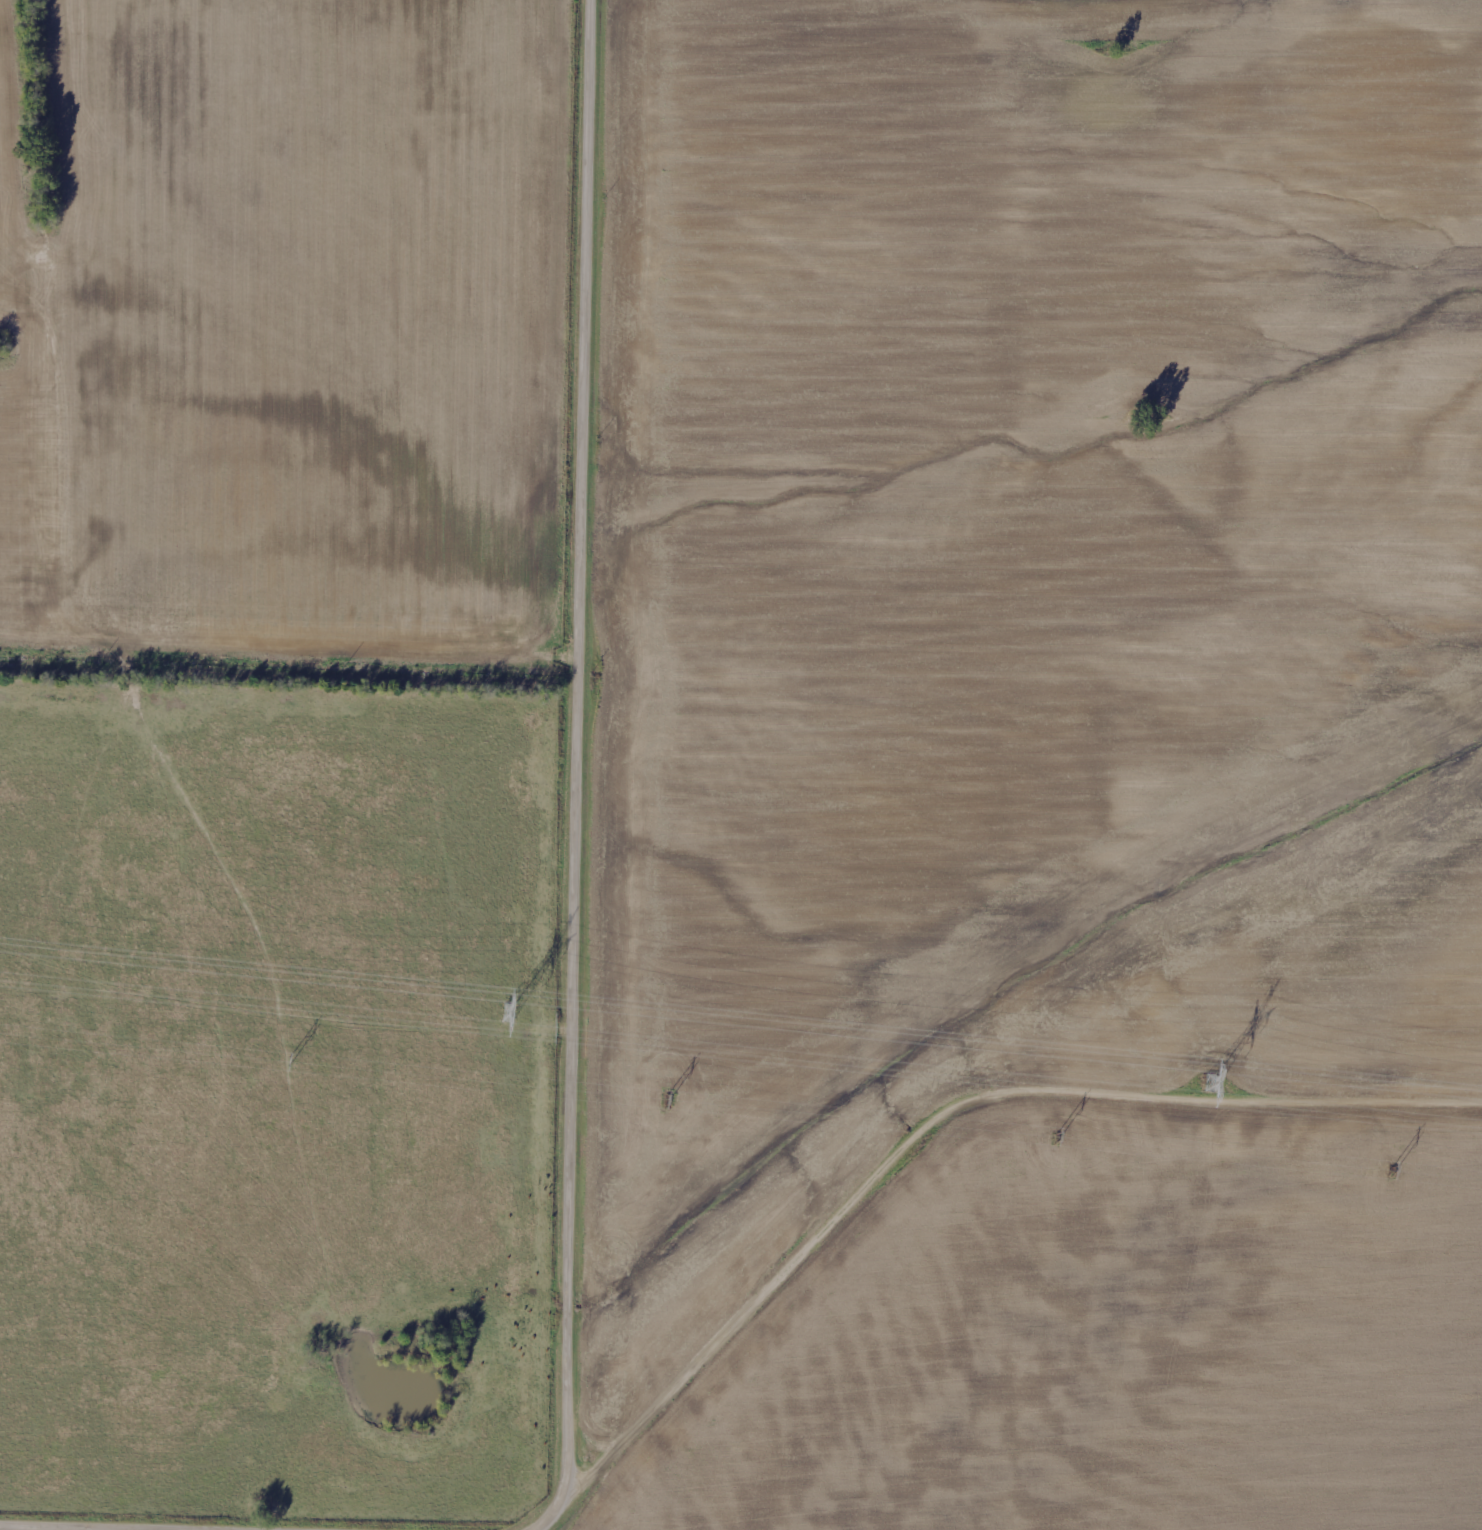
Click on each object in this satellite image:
road: (291, 650)
road: (581, 707)
power tower: (509, 1015)
power tower: (1209, 1085)
road: (734, 1300)

